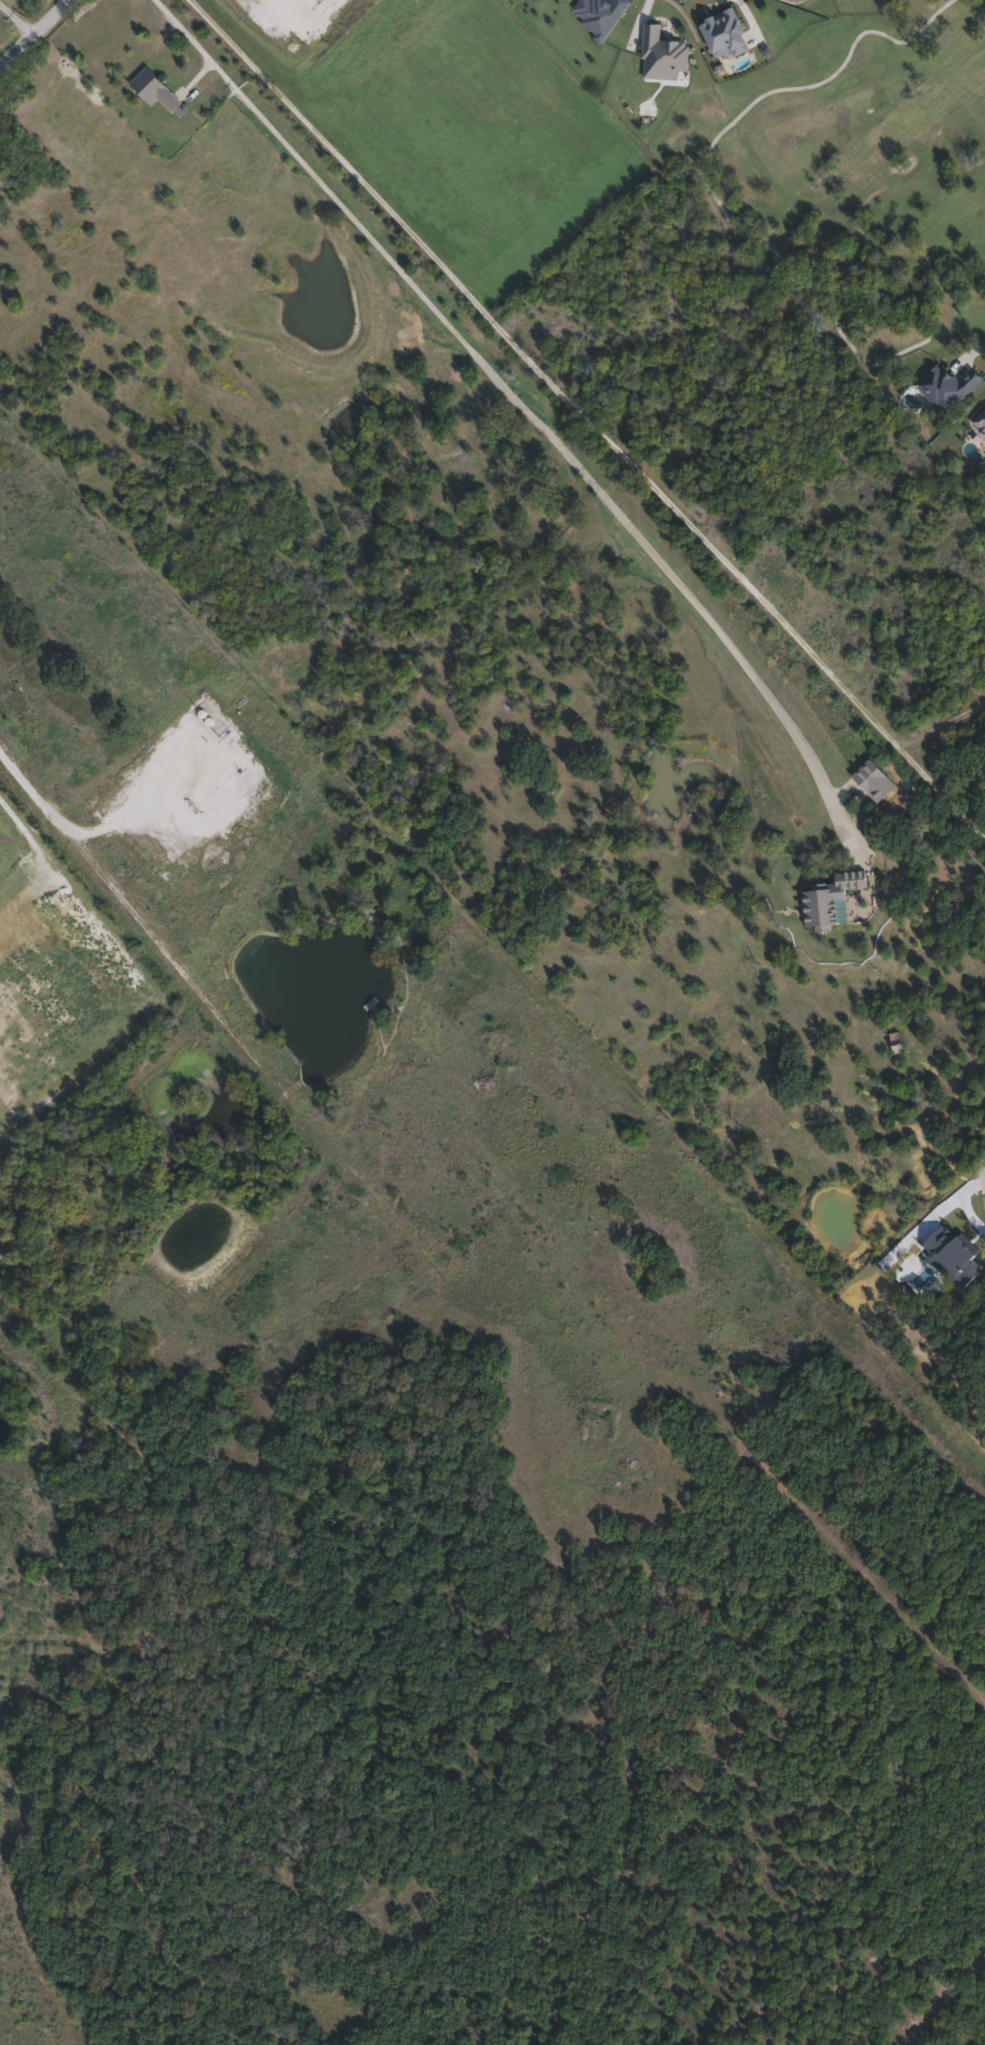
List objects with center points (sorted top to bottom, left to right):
building: (601, 16)
road: (18, 21)
building: (724, 34)
road: (38, 35)
building: (662, 55)
building: (152, 88)
road: (731, 225)
building: (948, 388)
road: (529, 412)
road: (590, 419)
building: (980, 421)
road: (942, 727)
building: (873, 782)
road: (39, 807)
road: (23, 841)
building: (831, 900)
building: (894, 1044)

